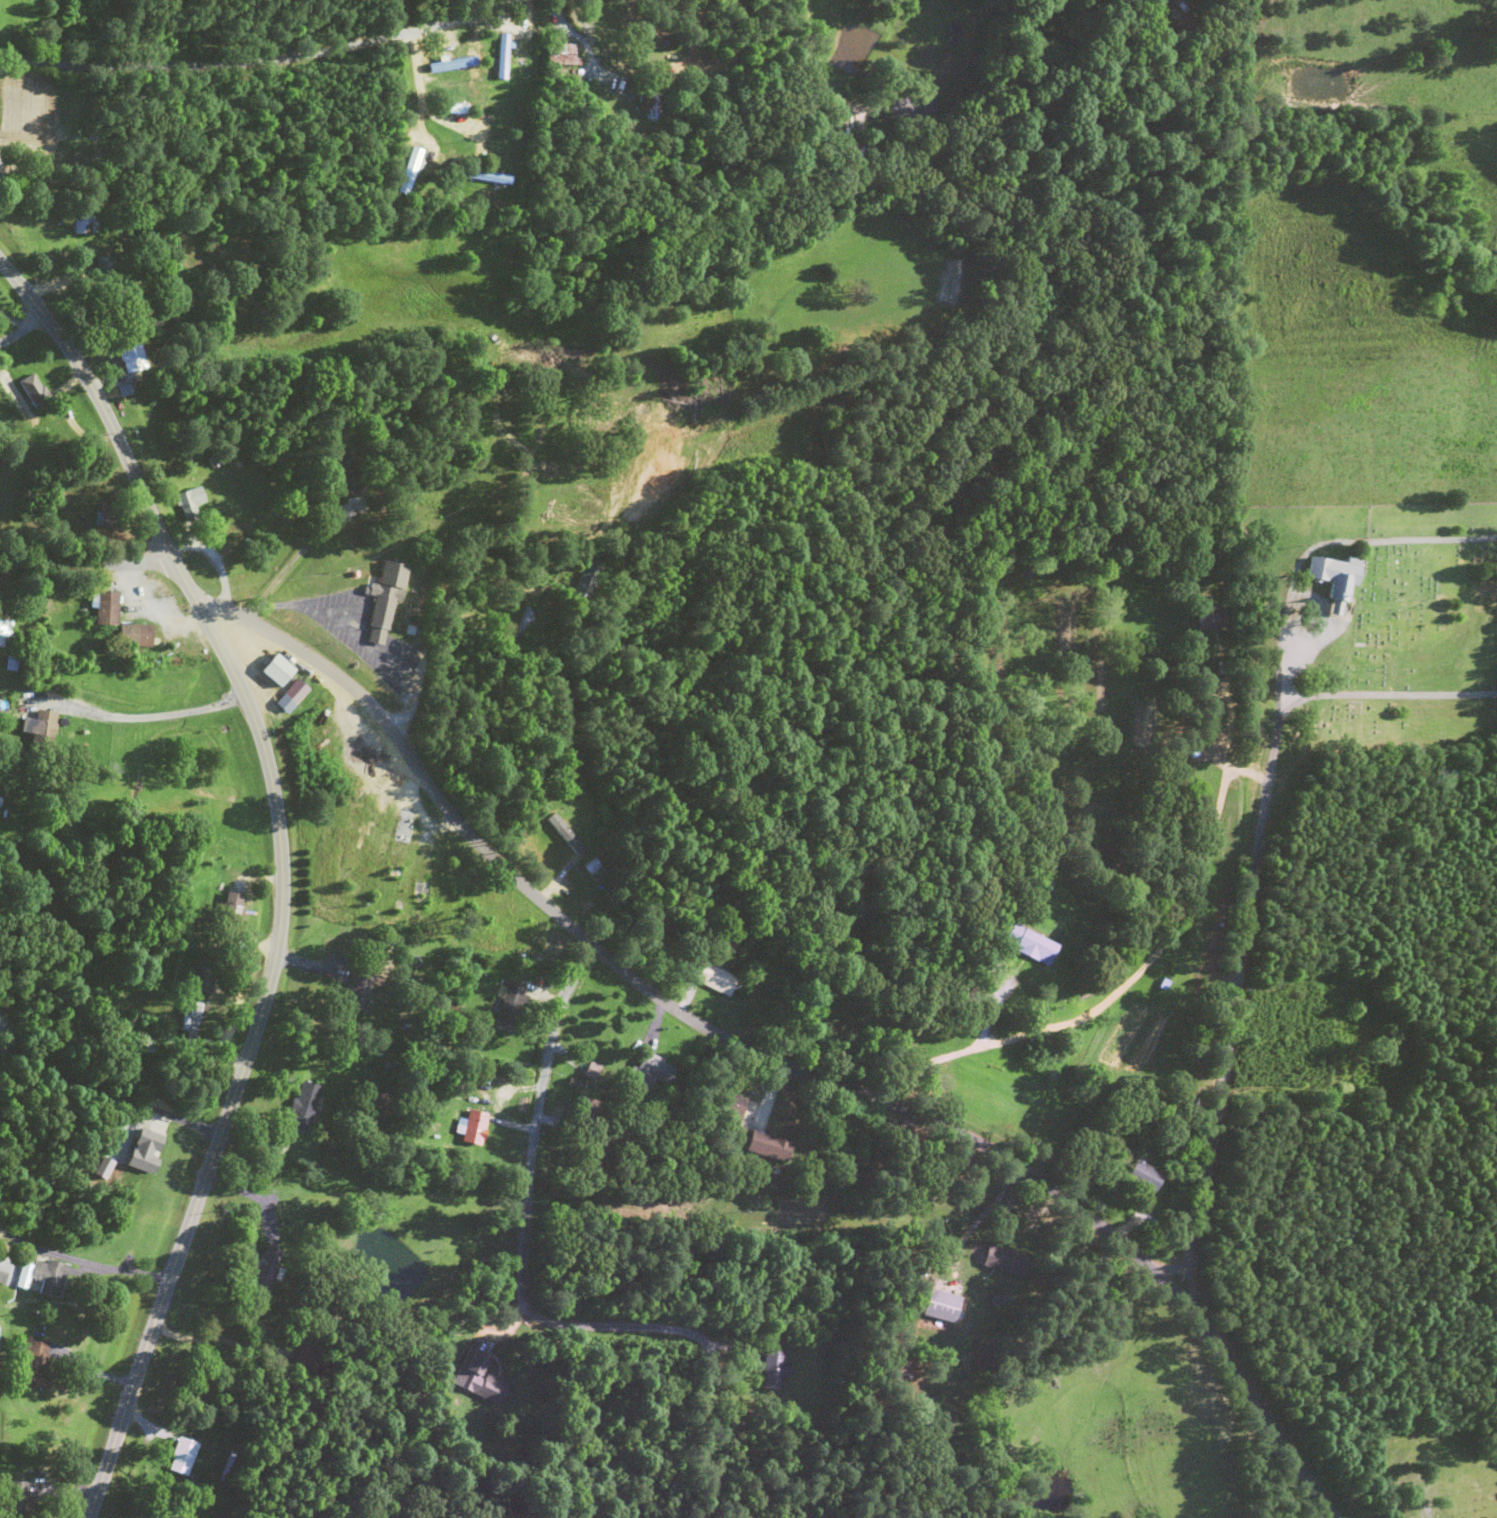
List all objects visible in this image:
road: (748, 49)
building: (562, 56)
building: (449, 73)
building: (651, 107)
building: (87, 226)
building: (105, 270)
building: (216, 274)
building: (133, 360)
building: (34, 392)
road: (101, 411)
building: (349, 475)
building: (193, 505)
building: (110, 516)
road: (84, 551)
building: (588, 580)
building: (1337, 580)
building: (385, 597)
building: (107, 609)
road: (706, 621)
road: (720, 624)
building: (137, 636)
building: (279, 671)
building: (296, 691)
building: (44, 724)
road: (559, 789)
road: (60, 810)
building: (570, 829)
building: (593, 871)
road: (1496, 887)
road: (1107, 889)
building: (435, 895)
building: (235, 909)
road: (1219, 924)
building: (1031, 945)
building: (717, 980)
building: (202, 983)
building: (360, 990)
building: (511, 1009)
building: (191, 1018)
road: (776, 1035)
building: (304, 1107)
building: (728, 1114)
building: (475, 1129)
building: (770, 1147)
building: (1147, 1176)
road: (1164, 1239)
building: (1006, 1262)
building: (265, 1270)
road: (689, 1274)
building: (47, 1278)
building: (944, 1307)
building: (304, 1360)
building: (35, 1364)
building: (774, 1370)
building: (483, 1386)
building: (183, 1457)
road: (1428, 1495)

